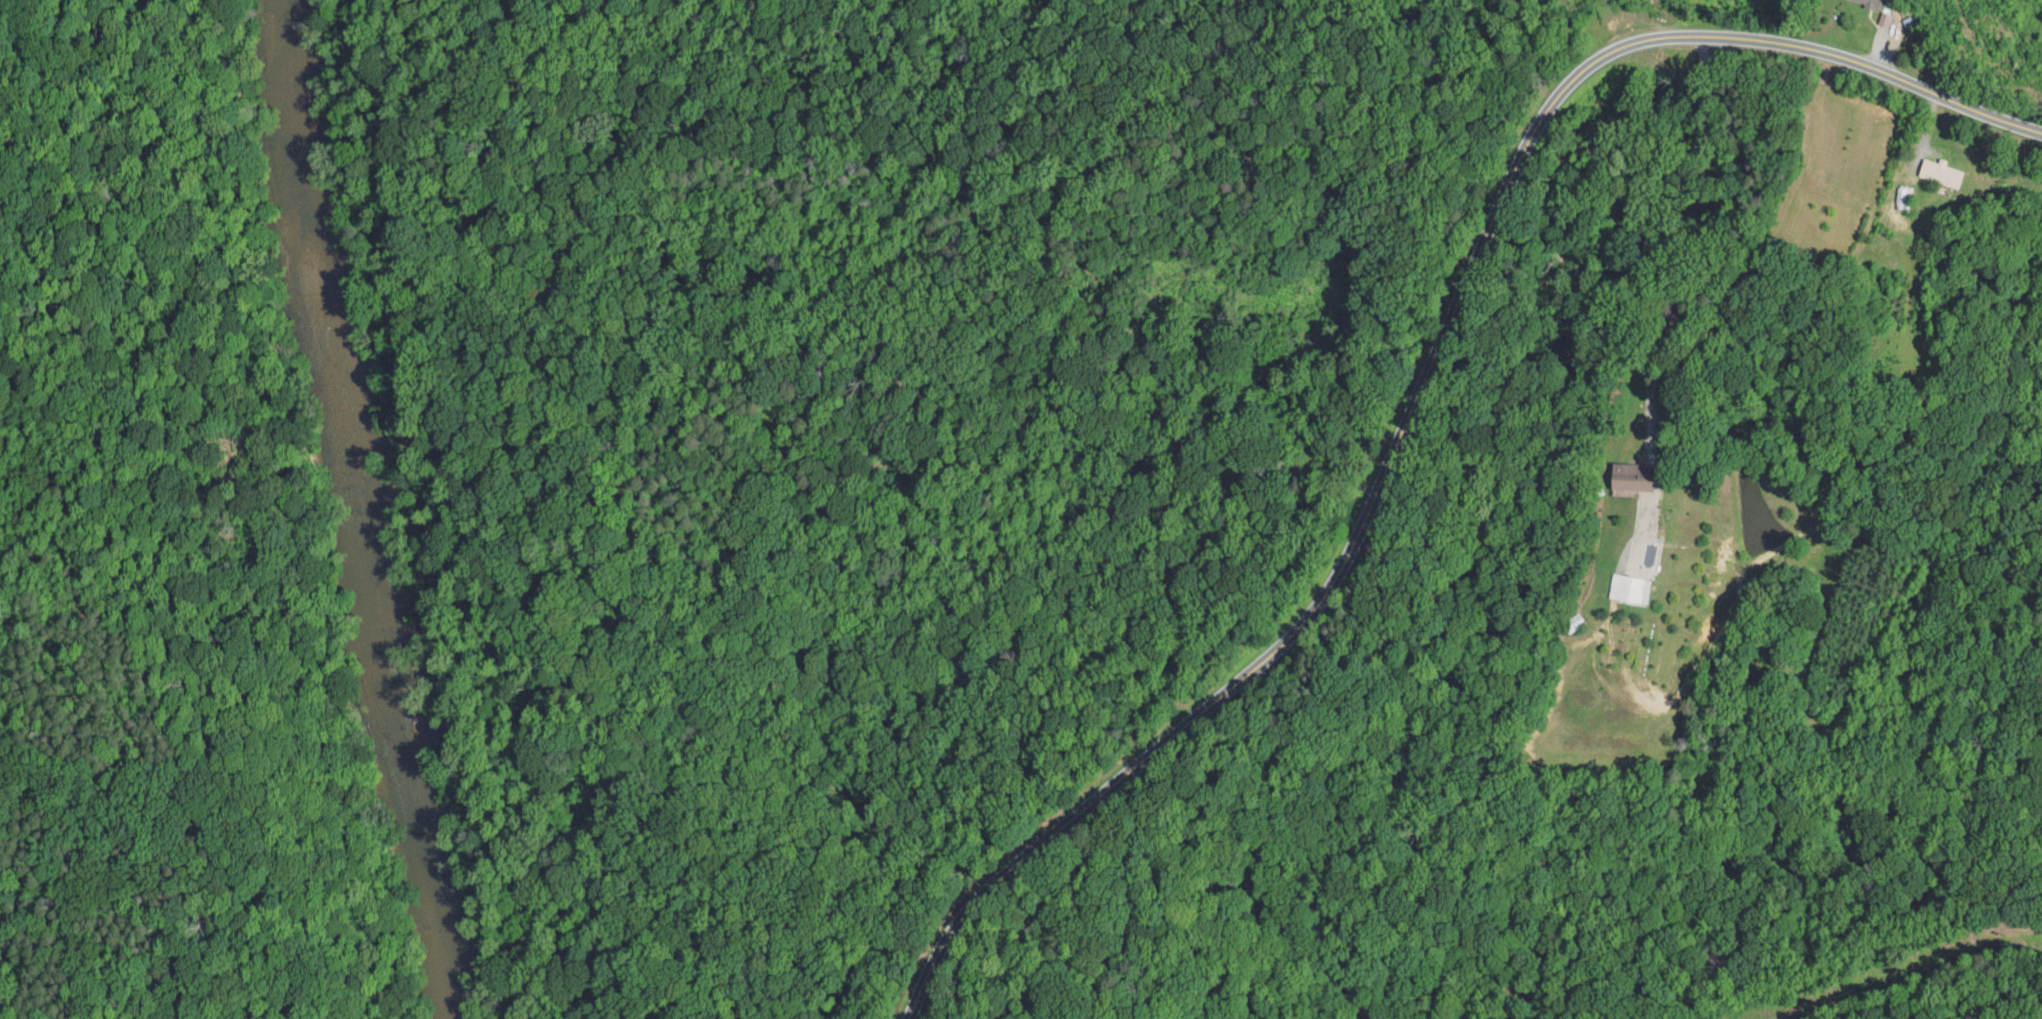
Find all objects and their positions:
building: (1857, 1)
building: (1925, 168)
road: (1723, 254)
road: (2011, 380)
road: (1423, 384)
building: (1617, 471)
river: (364, 510)
building: (1616, 582)

